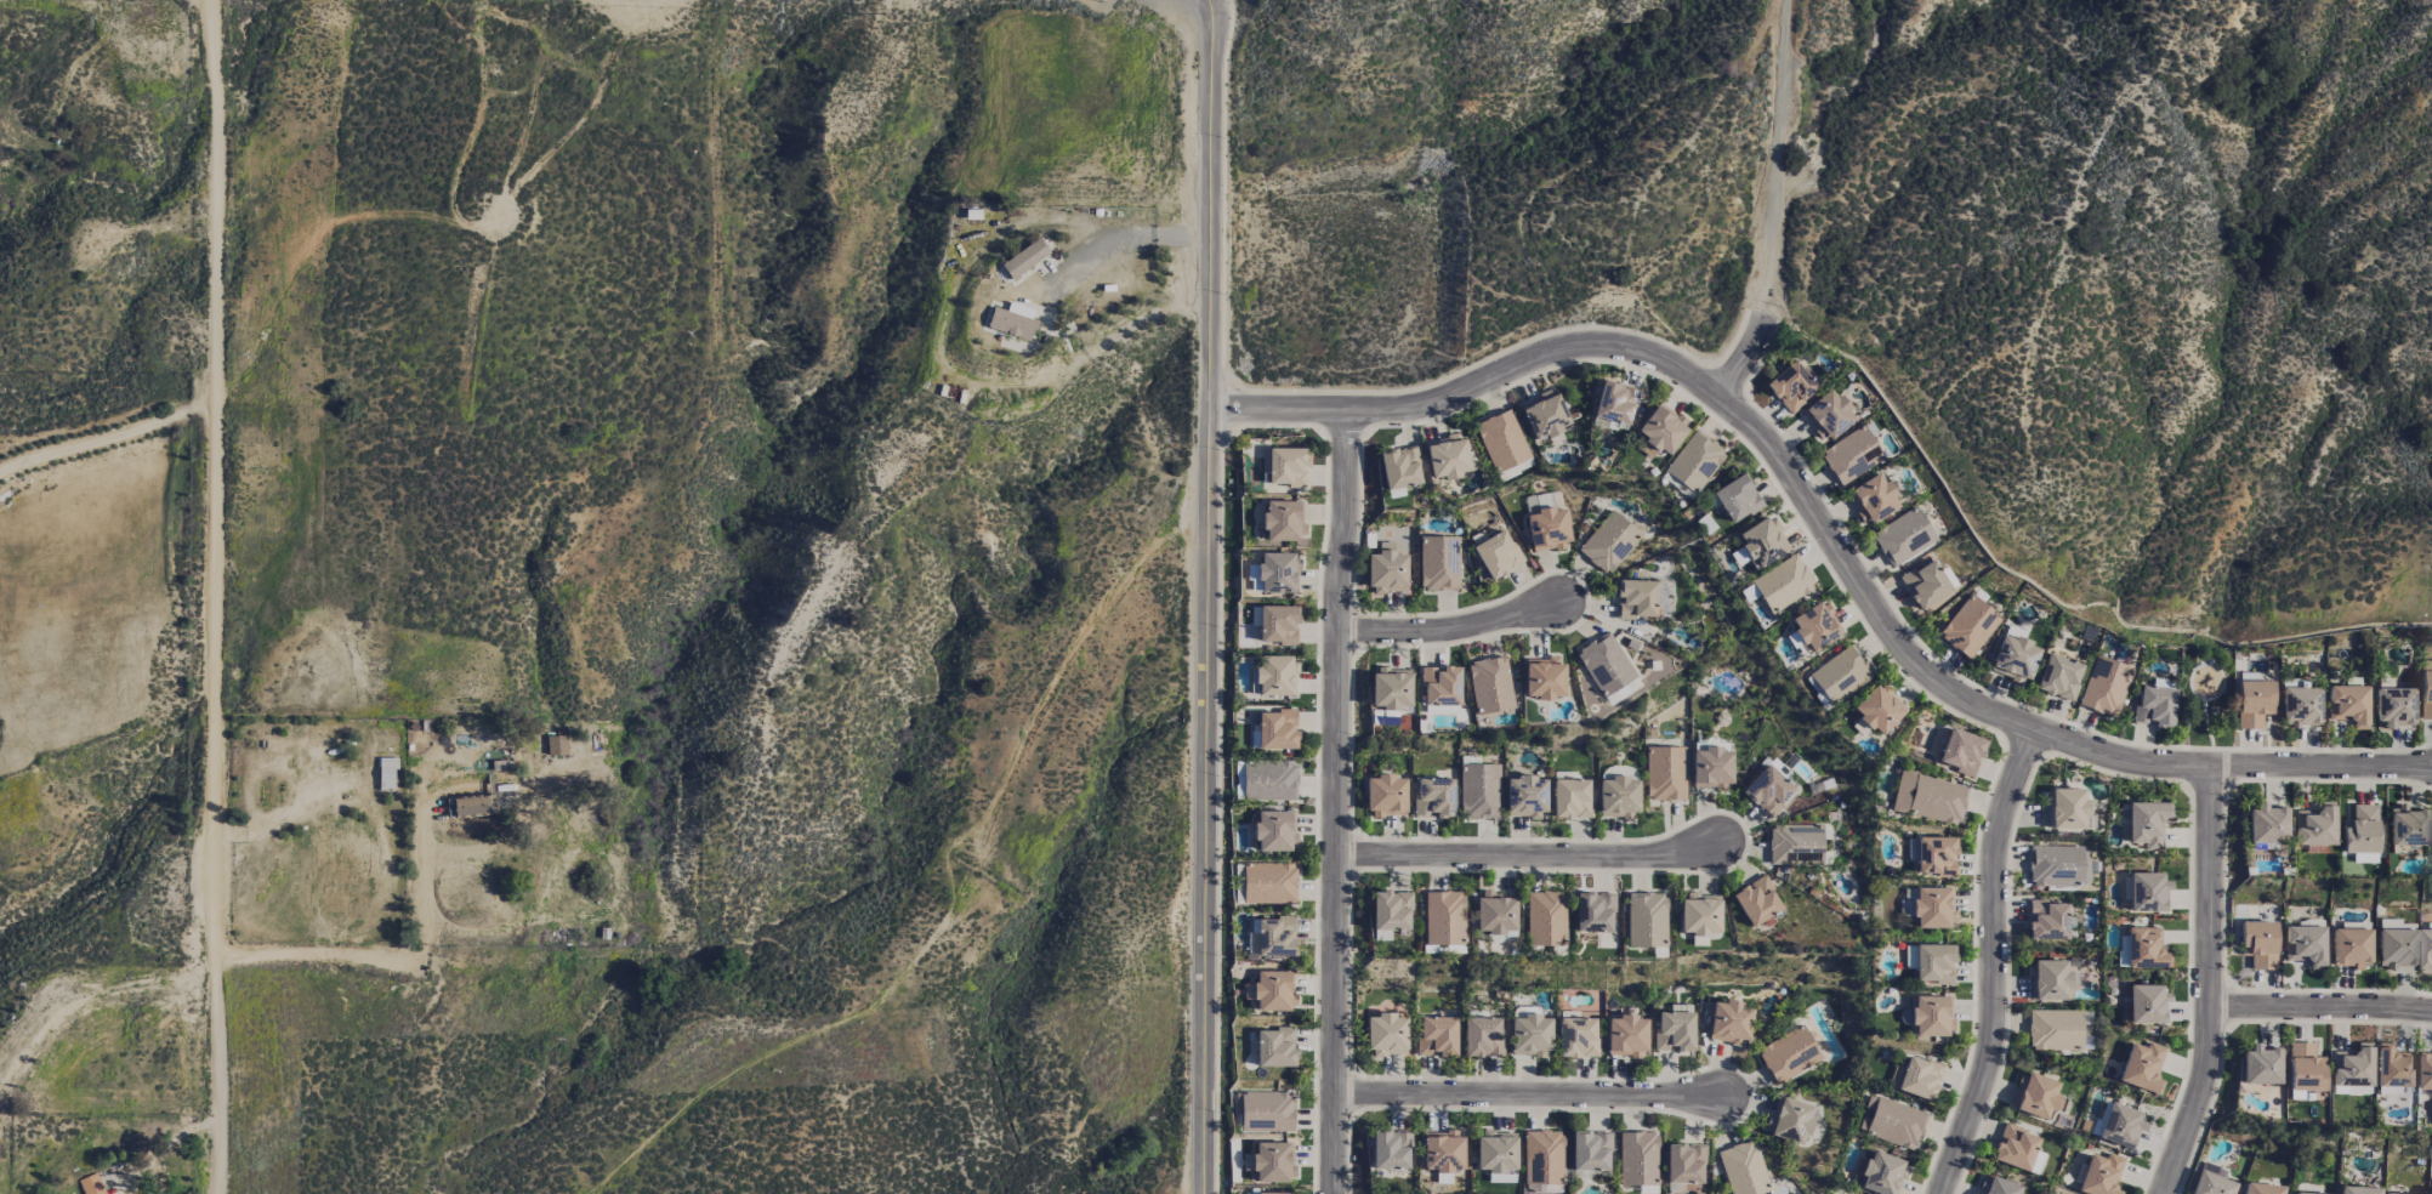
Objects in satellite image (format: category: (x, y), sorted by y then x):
road: (1775, 158)
road: (1115, 239)
building: (1023, 258)
building: (1011, 323)
road: (1744, 359)
building: (1790, 386)
building: (1613, 405)
building: (1542, 415)
building: (1826, 415)
building: (1660, 427)
building: (1500, 439)
building: (1851, 455)
building: (1445, 456)
building: (1693, 461)
building: (1283, 466)
building: (1399, 467)
building: (1513, 468)
building: (1735, 497)
building: (1871, 497)
building: (1283, 519)
building: (1546, 525)
road: (1823, 530)
building: (1902, 536)
building: (1608, 541)
building: (1761, 541)
building: (1496, 553)
building: (1438, 563)
building: (1386, 570)
building: (1278, 573)
building: (1782, 582)
building: (1926, 586)
road: (1208, 596)
road: (215, 597)
building: (1635, 598)
building: (1278, 624)
building: (1816, 626)
building: (1968, 626)
road: (1447, 630)
building: (2013, 655)
building: (1604, 664)
building: (1840, 673)
building: (1274, 676)
building: (1542, 677)
building: (2058, 677)
building: (1489, 684)
building: (1439, 686)
building: (2103, 686)
building: (1391, 688)
building: (2425, 690)
building: (2252, 703)
building: (2347, 704)
building: (2300, 705)
building: (2153, 706)
building: (2394, 706)
building: (1877, 709)
building: (1277, 729)
building: (556, 745)
building: (1960, 752)
building: (1711, 768)
building: (386, 773)
building: (1664, 773)
building: (1238, 779)
building: (1269, 779)
building: (1478, 790)
building: (1767, 790)
building: (1385, 795)
building: (1524, 796)
building: (1433, 797)
building: (1616, 797)
building: (1928, 797)
building: (1570, 798)
road: (1337, 802)
building: (473, 804)
building: (2064, 808)
building: (2313, 825)
building: (2405, 826)
building: (1274, 830)
building: (2358, 830)
building: (1795, 843)
road: (1525, 855)
building: (1934, 855)
building: (2362, 858)
building: (2058, 865)
building: (1268, 882)
building: (2147, 892)
building: (1756, 900)
building: (1932, 906)
building: (1390, 910)
building: (1592, 911)
building: (1494, 912)
building: (1699, 914)
building: (1443, 917)
building: (1545, 917)
building: (1646, 920)
building: (2046, 920)
building: (2258, 943)
building: (2305, 944)
building: (2396, 948)
building: (2141, 949)
building: (2425, 951)
road: (363, 956)
building: (1909, 956)
building: (1933, 963)
road: (1991, 963)
building: (2047, 980)
road: (2210, 985)
building: (1271, 990)
building: (2146, 1003)
road: (2320, 1008)
building: (1931, 1016)
building: (1729, 1022)
building: (2053, 1029)
building: (1674, 1030)
building: (1386, 1034)
building: (1436, 1035)
building: (1530, 1035)
building: (1482, 1036)
building: (1625, 1036)
building: (1576, 1037)
building: (1274, 1047)
building: (1788, 1053)
building: (2260, 1064)
building: (2352, 1065)
building: (2305, 1067)
building: (2142, 1068)
building: (2394, 1068)
building: (2426, 1070)
building: (1916, 1078)
building: (2388, 1091)
building: (2035, 1096)
road: (1532, 1098)
building: (1265, 1111)
building: (1789, 1119)
building: (1891, 1122)
building: (2121, 1126)
building: (2013, 1148)
building: (1390, 1149)
building: (1589, 1150)
building: (1441, 1152)
building: (1495, 1152)
building: (1542, 1158)
building: (1637, 1158)
building: (2035, 1161)
building: (1683, 1164)
building: (1743, 1169)
building: (2212, 1169)
building: (1880, 1173)
building: (2099, 1175)
building: (1500, 1178)
building: (91, 1184)
building: (2210, 1184)
building: (2261, 1188)
building: (2358, 1190)
building: (1277, 1193)
building: (2301, 1193)
building: (2431, 1193)

